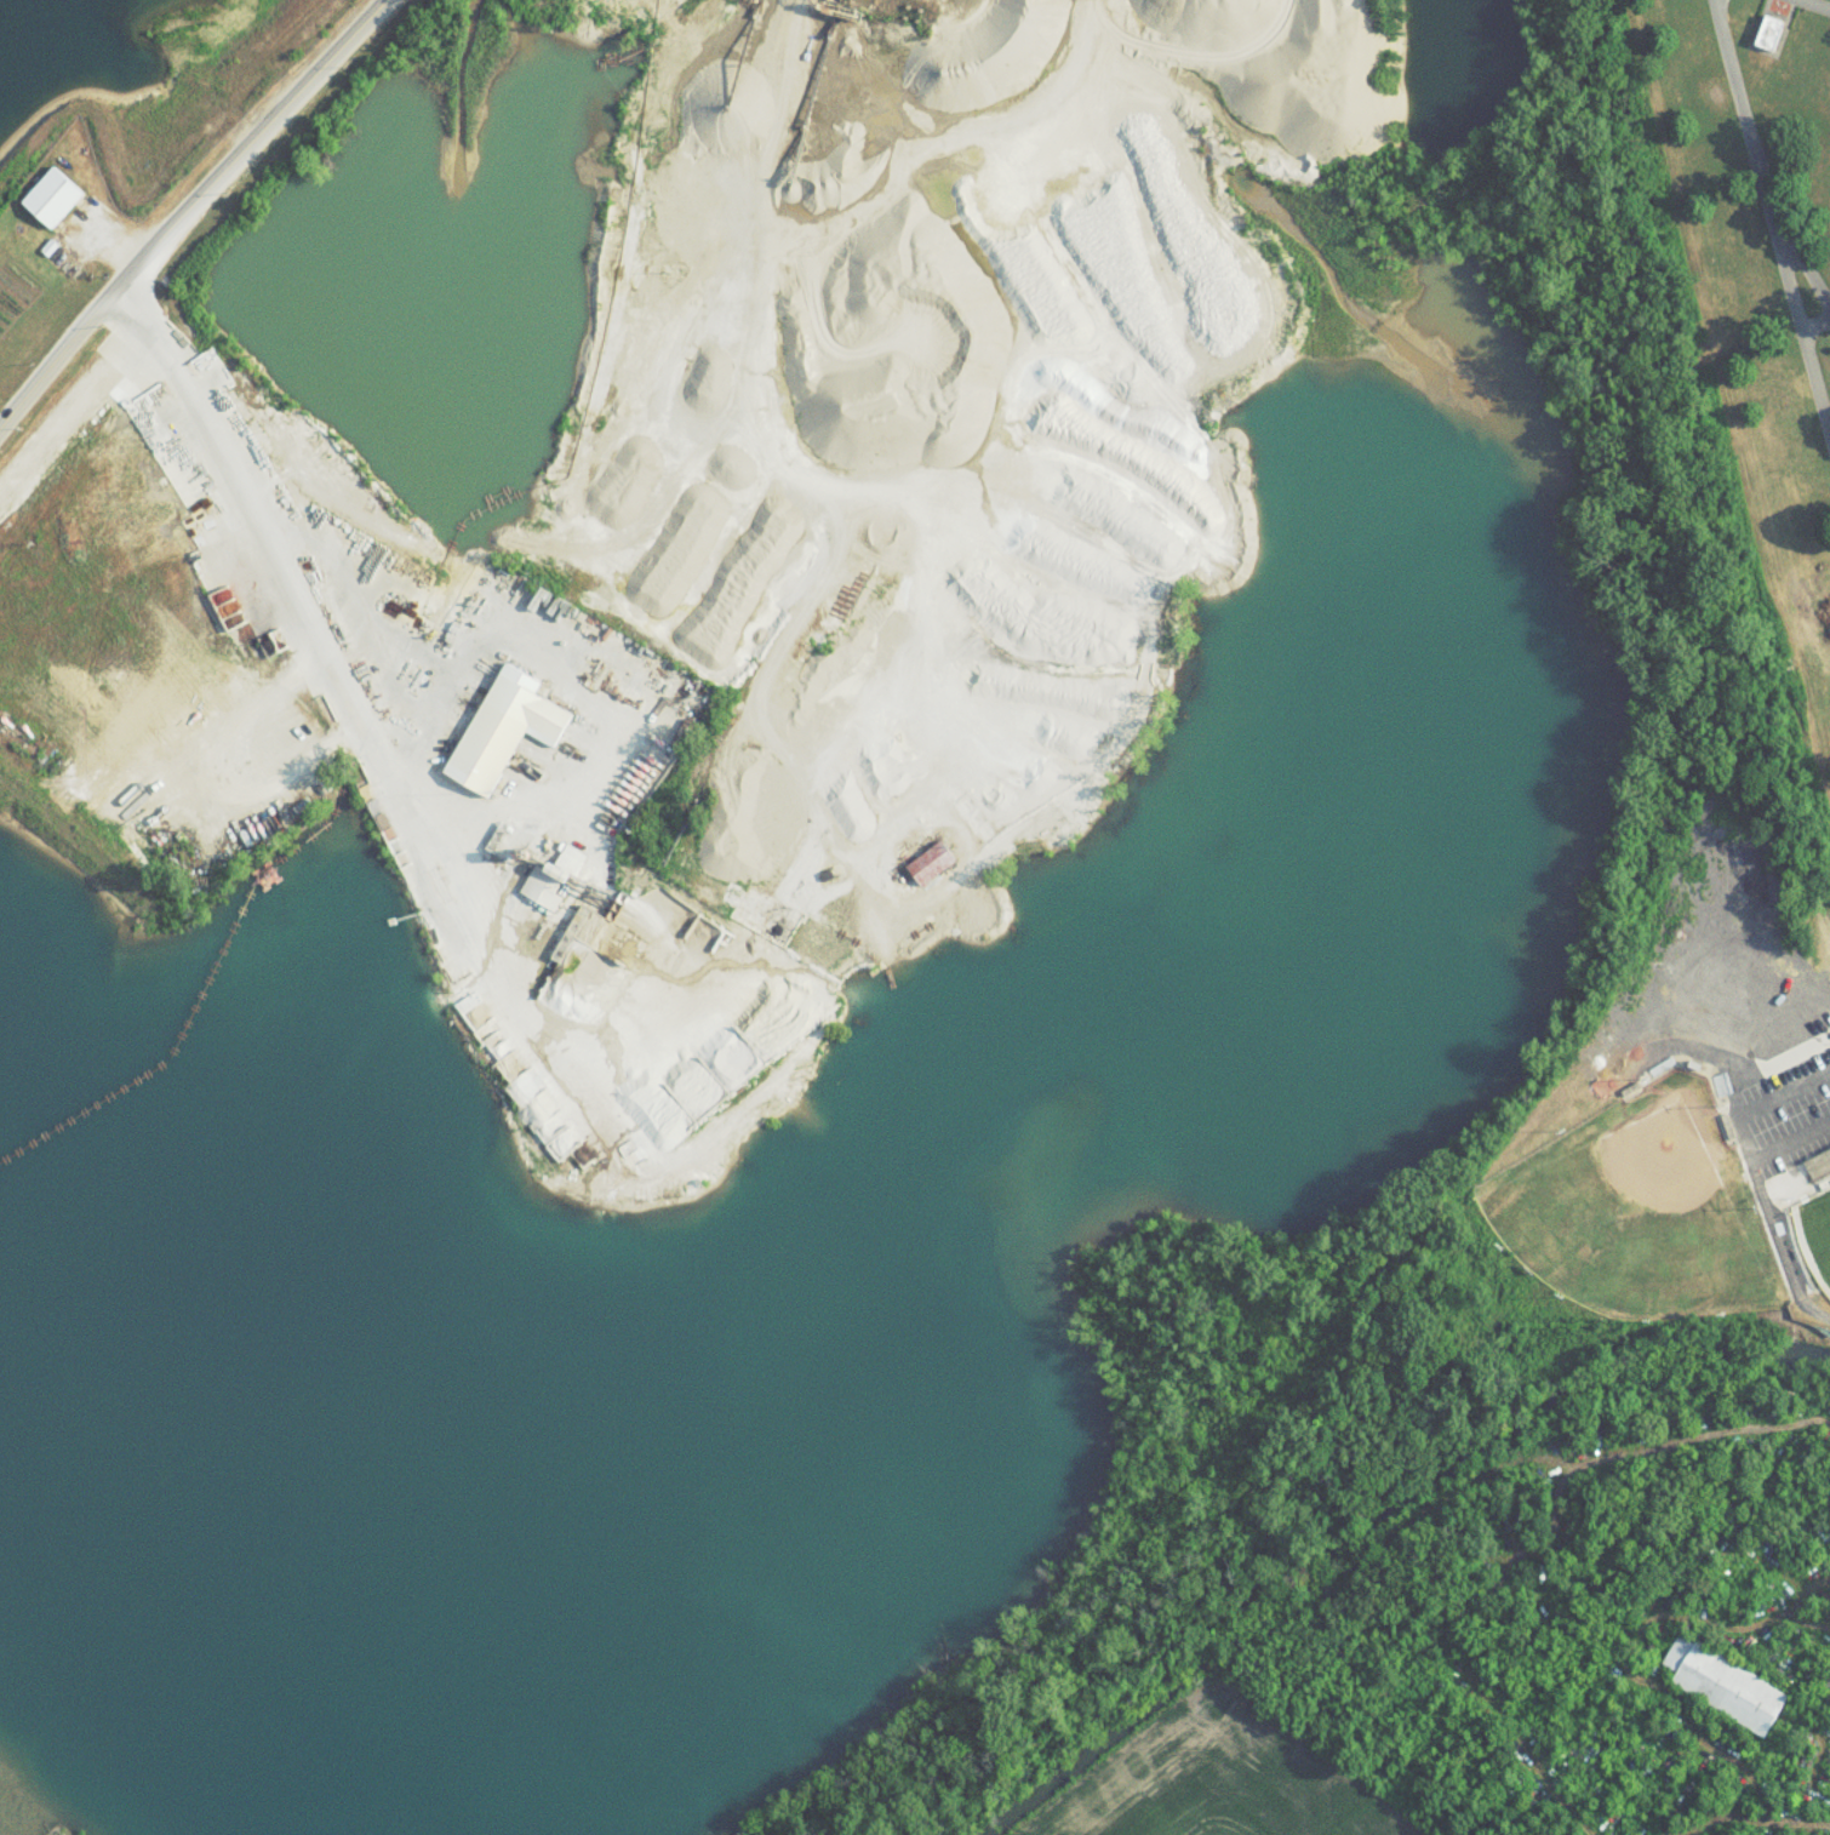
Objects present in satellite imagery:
road: (1714, 4)
road: (1815, 5)
road: (1752, 165)
road: (182, 216)
road: (116, 241)
park: (1756, 309)
road: (1814, 331)
road: (1803, 343)
road: (296, 611)
quarry: (860, 936)
parking lot: (1728, 987)
road: (1725, 1063)
parking lot: (1782, 1113)
road: (1767, 1200)
road: (1801, 1202)
park: (1640, 1214)
park: (1815, 1242)
crop: (1222, 1779)

